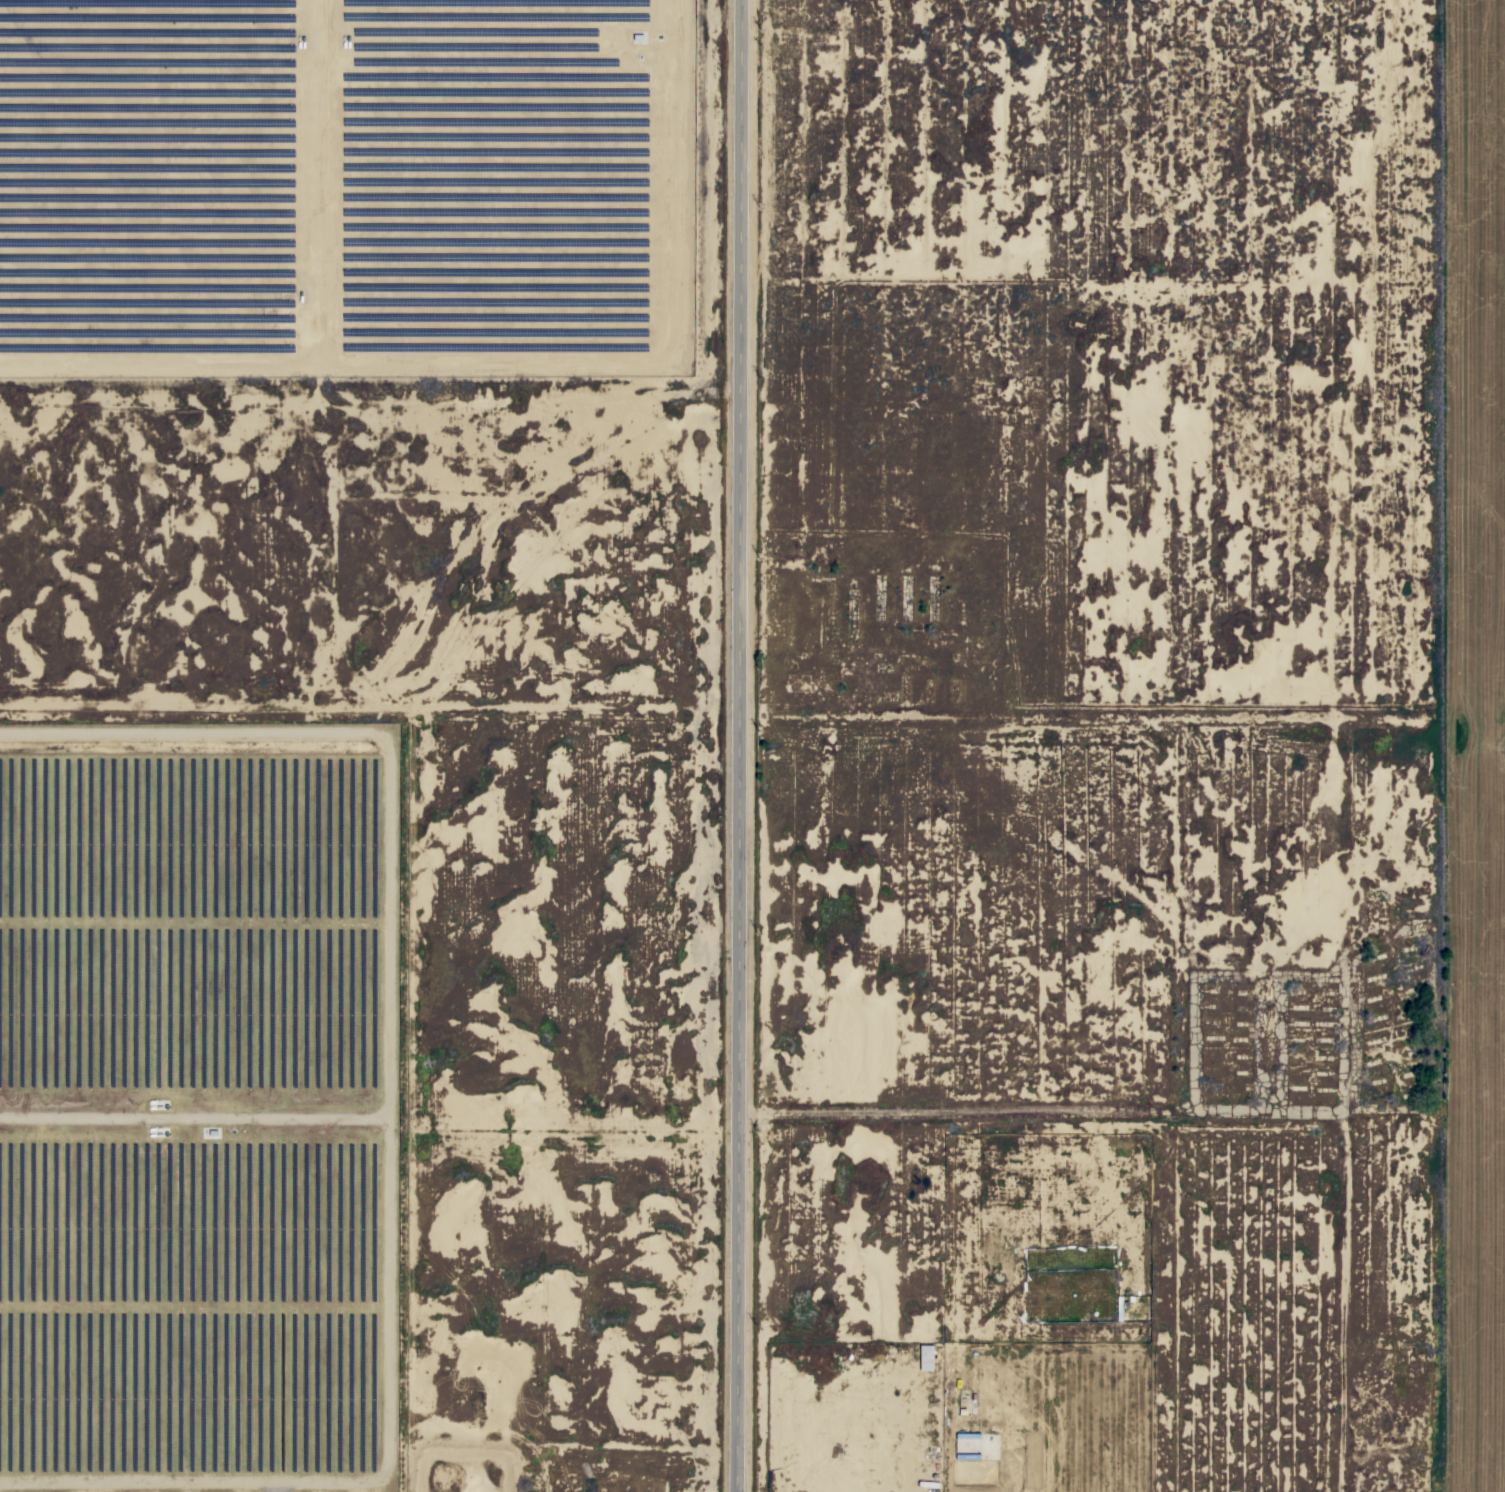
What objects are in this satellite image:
solar farm: (346, 183)
crop: (1469, 744)
road: (729, 746)
solar farm: (196, 1106)
building: (935, 1488)

